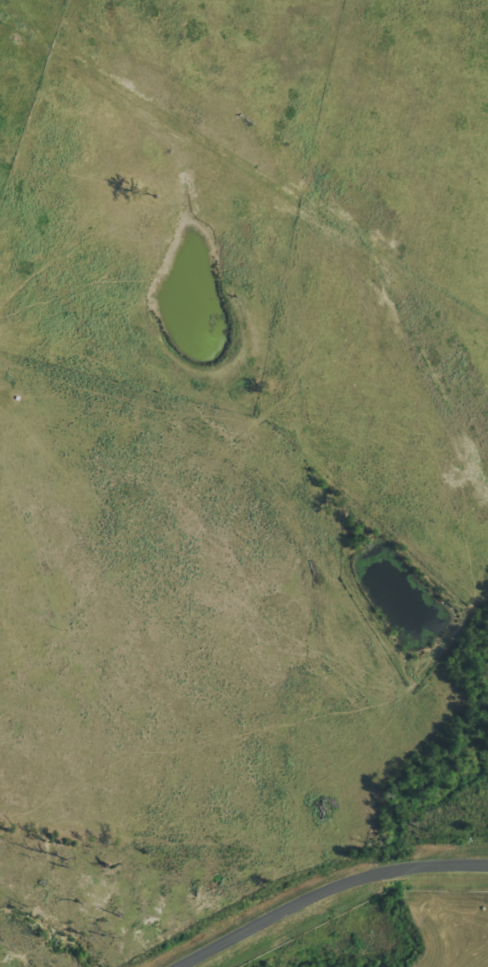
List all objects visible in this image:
road: (325, 892)

